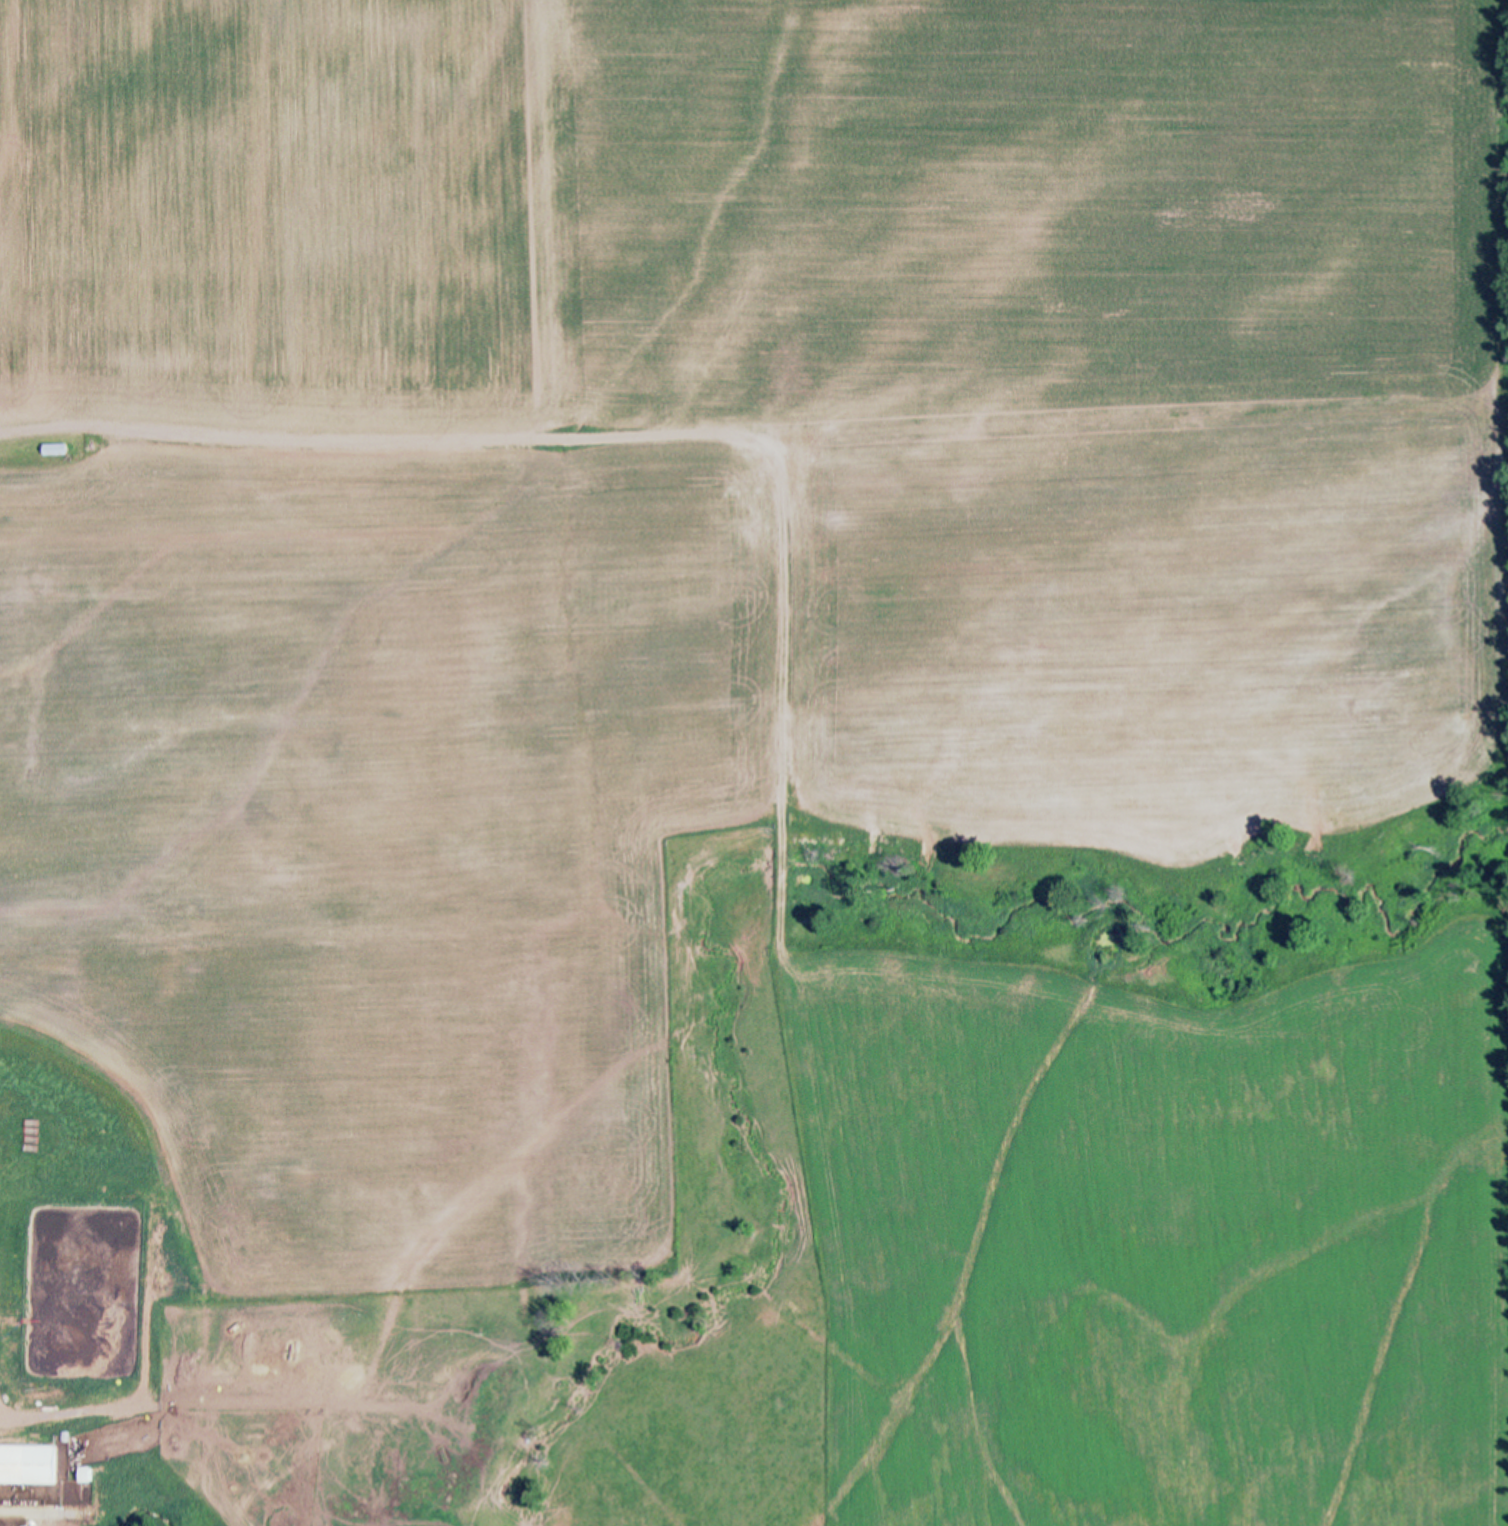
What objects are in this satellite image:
building: (54, 450)
building: (29, 1463)
building: (89, 1473)

